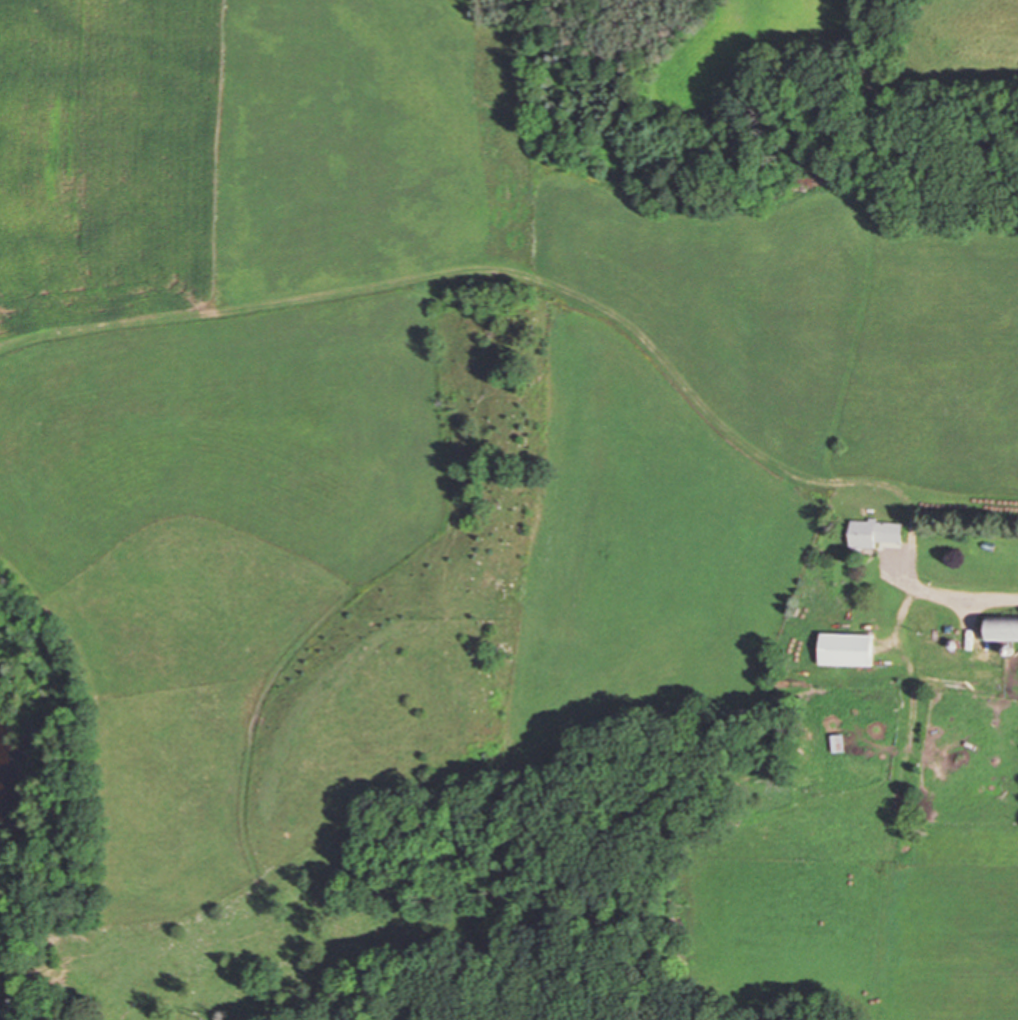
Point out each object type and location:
building: (871, 533)
road: (1006, 601)
building: (996, 629)
building: (841, 649)
building: (833, 743)
river: (5, 814)

